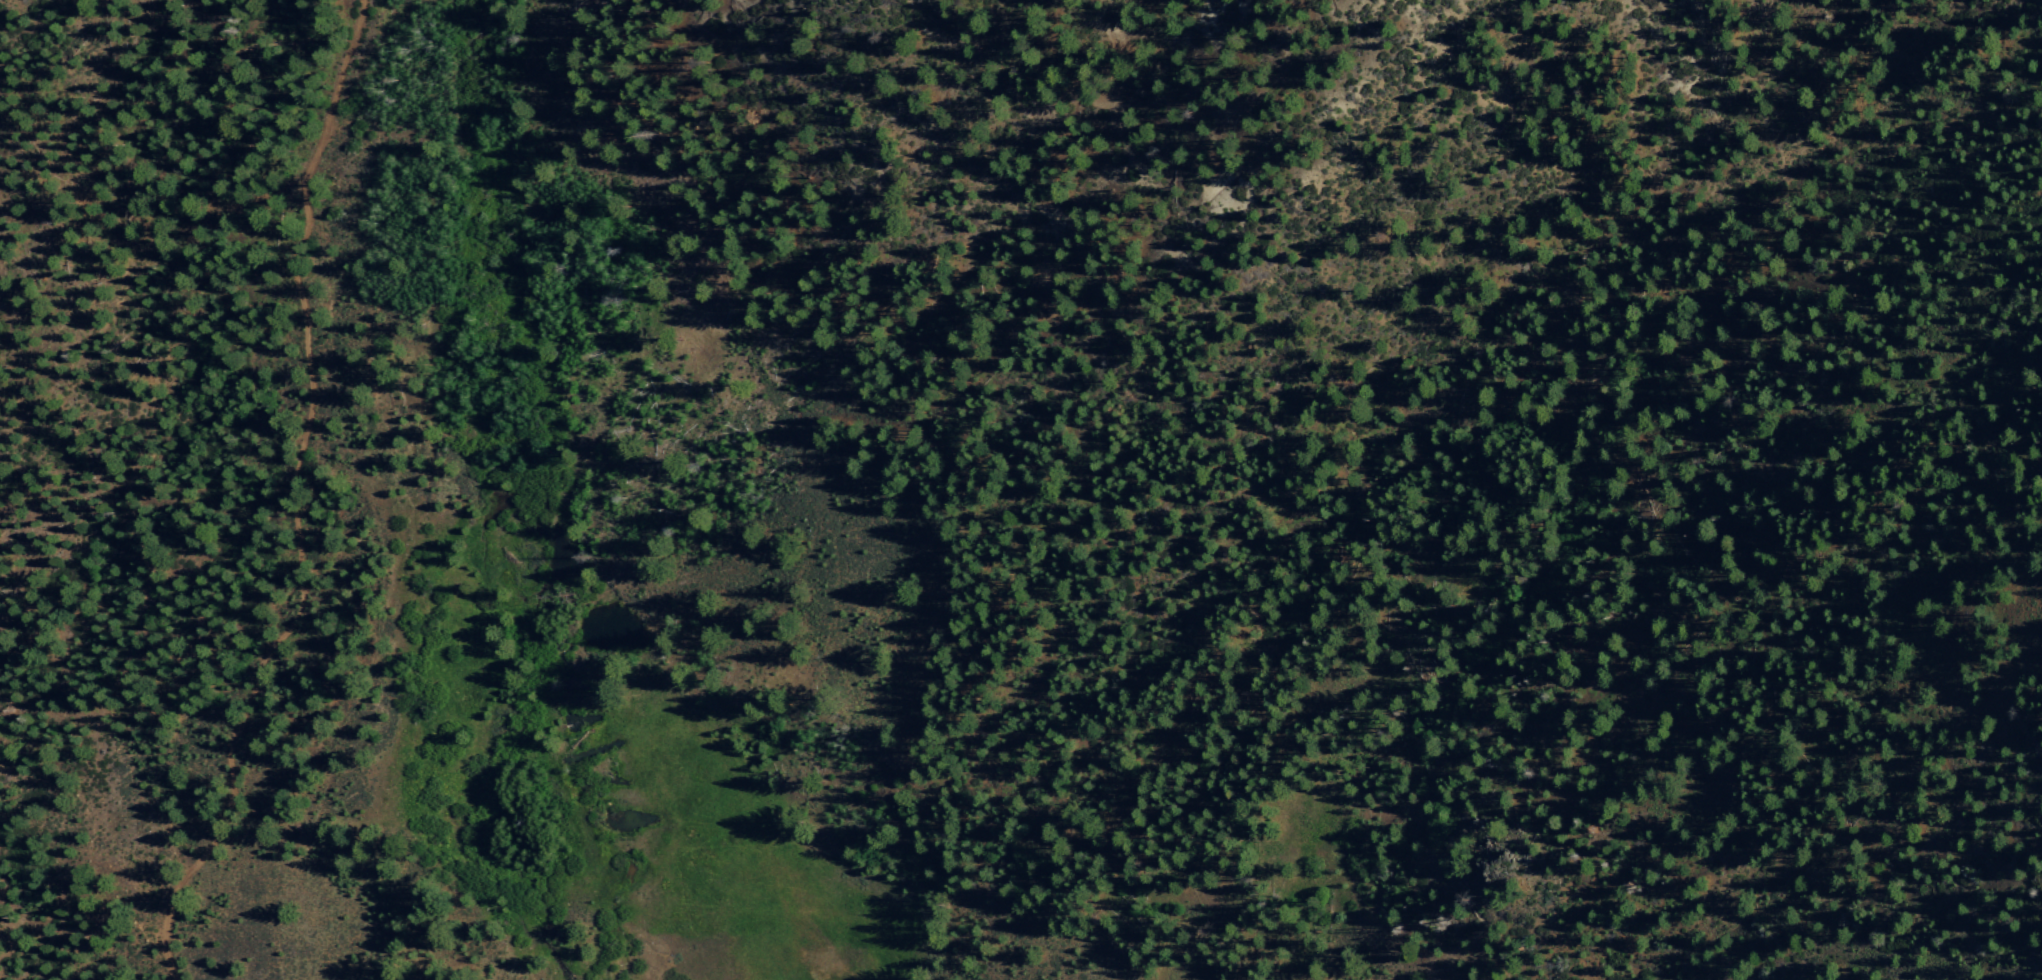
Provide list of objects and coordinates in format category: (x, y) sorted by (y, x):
road: (297, 522)

